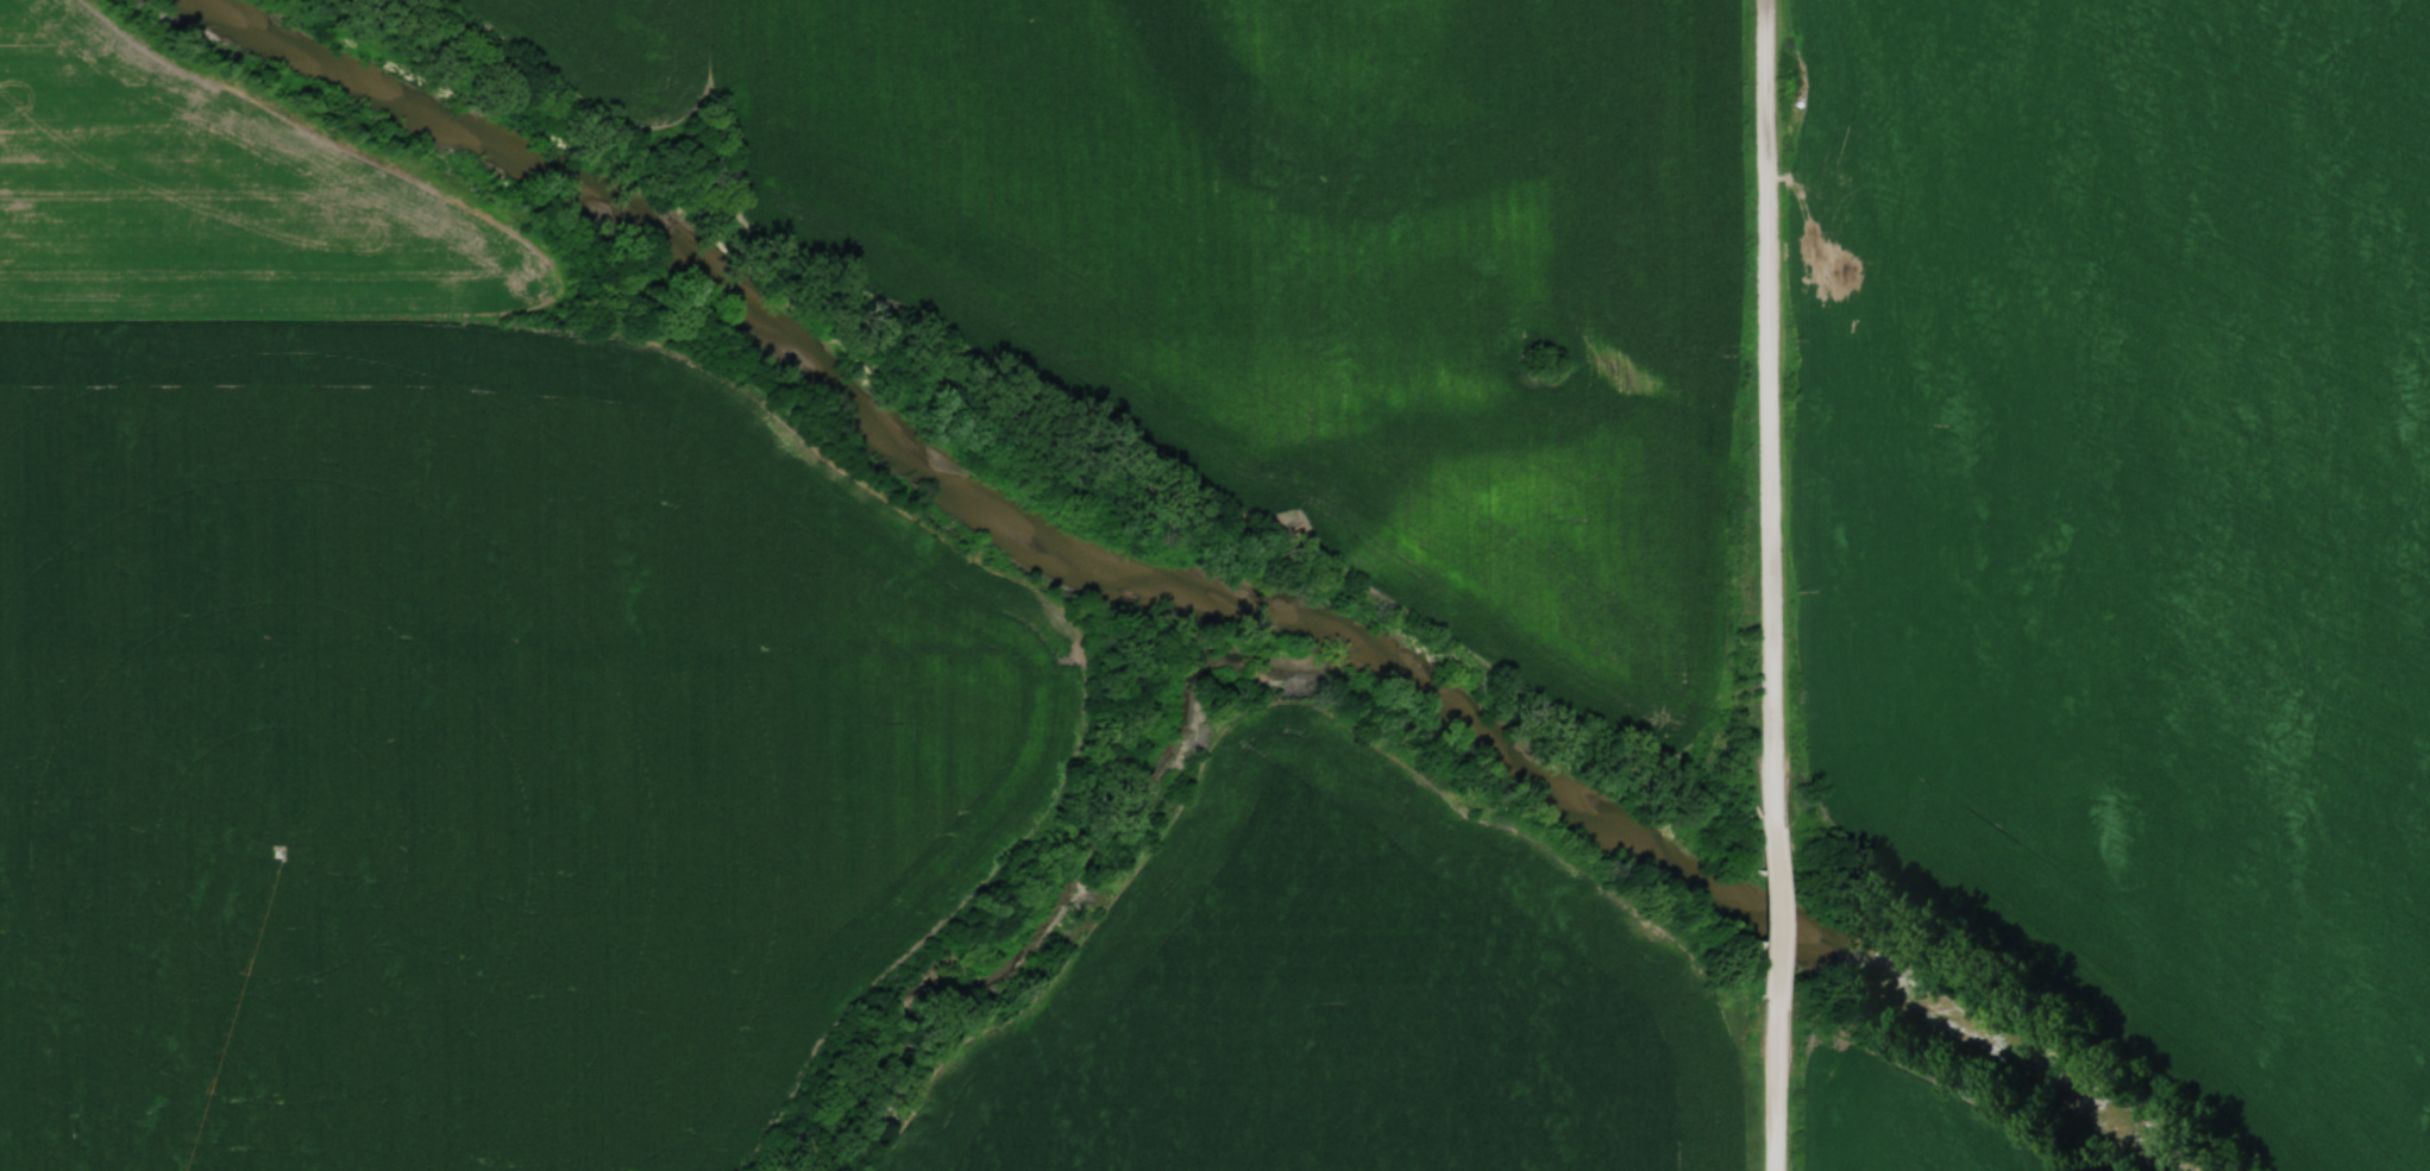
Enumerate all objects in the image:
crop: (1310, 252)
road: (1778, 410)
river: (1176, 586)
crop: (469, 753)
road: (1785, 913)
crop: (1346, 1002)
road: (1784, 1088)
crop: (1911, 1123)

